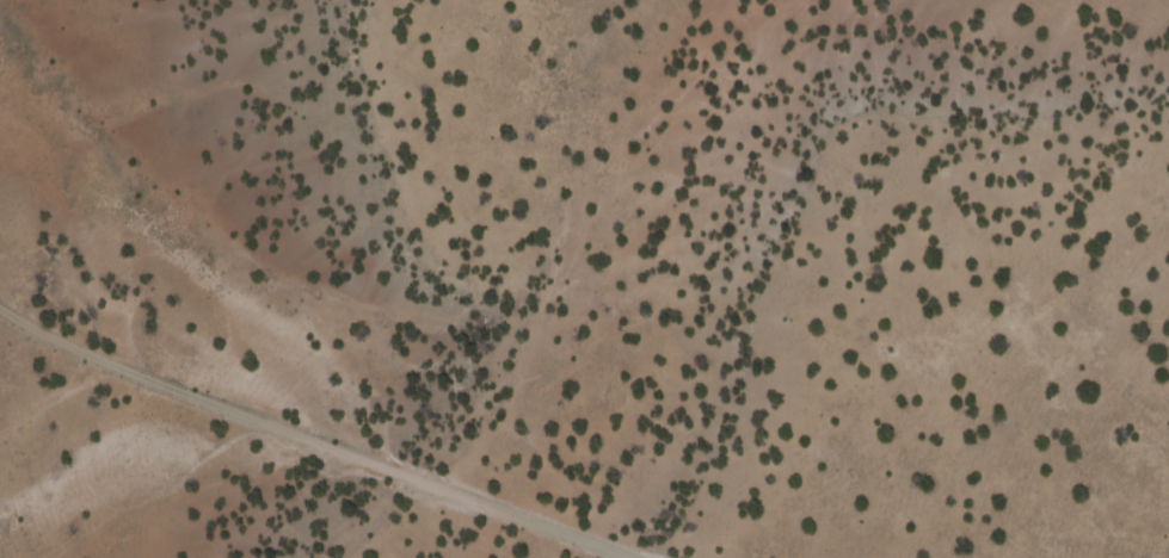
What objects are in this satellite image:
road: (304, 455)

